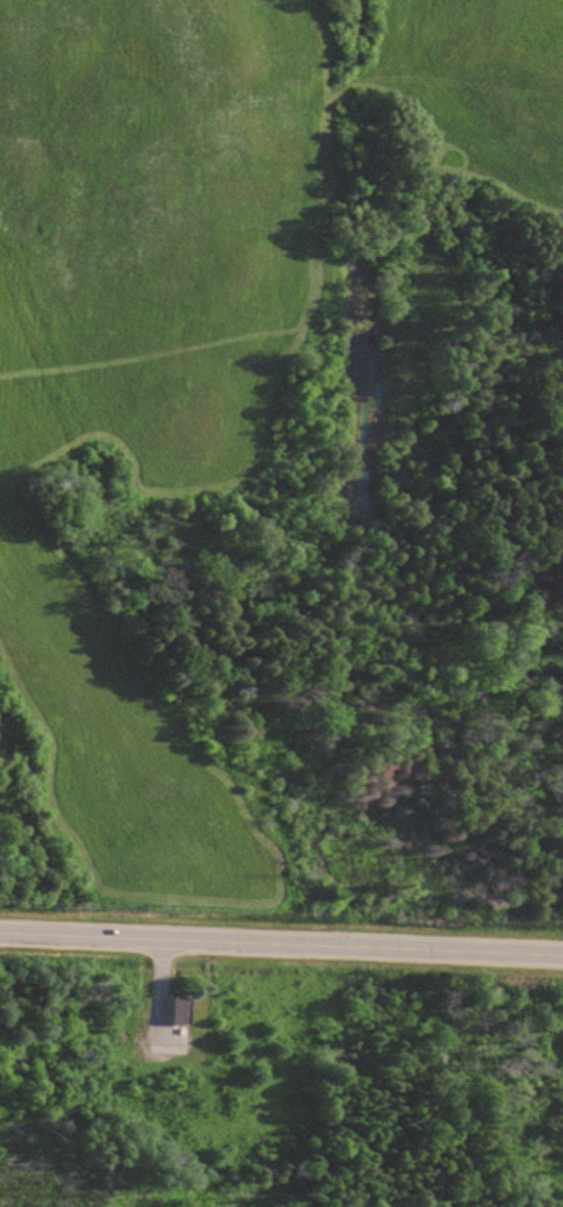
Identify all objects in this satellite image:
road: (281, 942)
building: (183, 1011)

